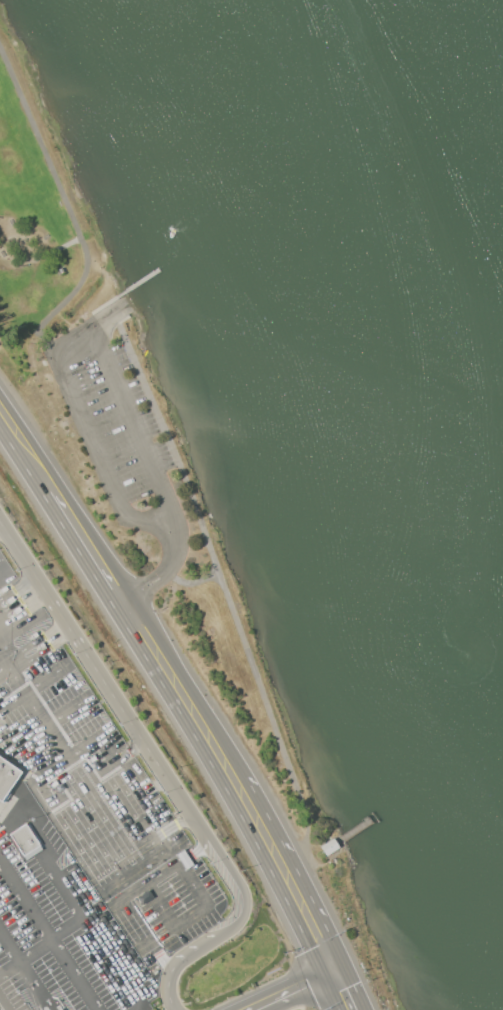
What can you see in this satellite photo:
road: (66, 245)
road: (64, 299)
road: (124, 310)
road: (108, 354)
park: (133, 425)
parking lot: (123, 428)
road: (25, 453)
road: (6, 535)
road: (87, 549)
road: (194, 582)
road: (225, 588)
road: (30, 600)
parking lot: (16, 602)
road: (60, 640)
road: (180, 696)
parking lot: (68, 740)
road: (129, 750)
road: (162, 769)
building: (7, 777)
road: (23, 779)
road: (162, 786)
road: (144, 787)
road: (137, 791)
airport: (110, 821)
road: (167, 822)
road: (188, 822)
pier: (358, 828)
building: (24, 839)
building: (329, 847)
building: (73, 865)
road: (289, 876)
road: (78, 890)
parking lot: (101, 911)
road: (94, 932)
road: (49, 935)
road: (47, 938)
road: (7, 949)
road: (7, 965)
traffic signals: (337, 971)
road: (29, 985)
road: (295, 990)
road: (345, 990)
road: (3, 1004)
parking lot: (0, 1008)

